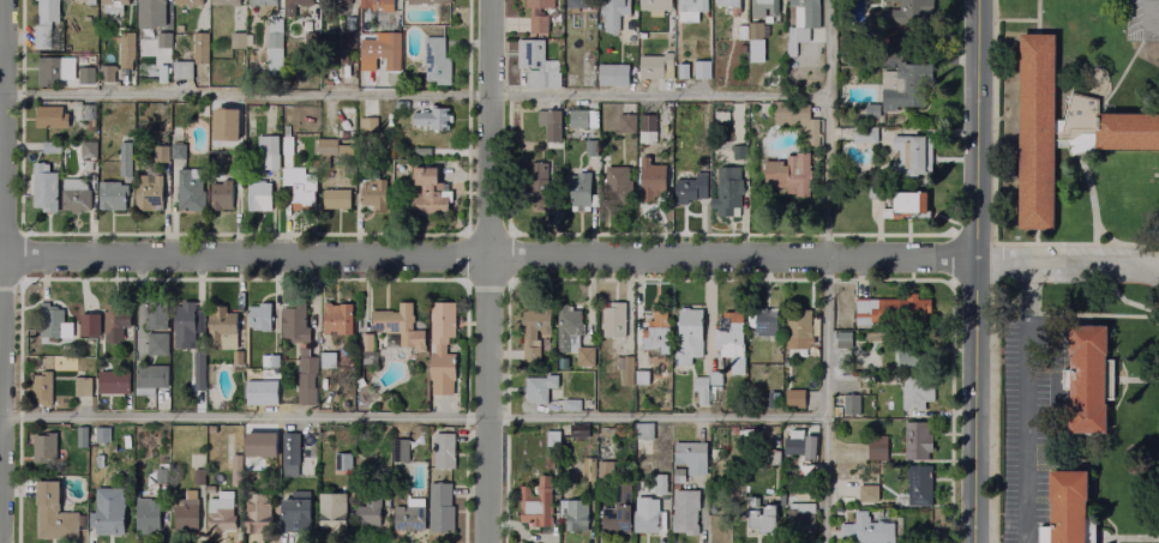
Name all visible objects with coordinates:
building: (110, 1)
building: (187, 1)
building: (427, 1)
building: (224, 2)
building: (292, 2)
building: (722, 2)
building: (653, 4)
building: (264, 5)
building: (374, 5)
building: (578, 5)
building: (758, 6)
building: (687, 8)
building: (149, 13)
building: (540, 13)
building: (609, 13)
road: (1035, 17)
building: (900, 18)
road: (1014, 20)
parking lot: (1141, 22)
building: (43, 23)
road: (1147, 23)
building: (328, 24)
building: (178, 29)
building: (734, 31)
building: (797, 40)
building: (163, 41)
building: (238, 42)
building: (756, 43)
building: (199, 46)
building: (275, 47)
building: (346, 47)
building: (388, 49)
building: (125, 55)
building: (236, 56)
building: (438, 56)
building: (106, 64)
building: (536, 65)
building: (654, 66)
building: (53, 68)
building: (181, 70)
building: (703, 70)
road: (1122, 70)
building: (683, 72)
building: (84, 73)
building: (162, 74)
building: (613, 76)
building: (740, 80)
building: (906, 90)
road: (413, 99)
building: (401, 108)
building: (871, 111)
building: (50, 117)
building: (89, 117)
building: (431, 117)
building: (607, 117)
building: (552, 120)
building: (578, 120)
building: (795, 122)
building: (368, 123)
building: (626, 125)
road: (0, 129)
building: (647, 131)
building: (1061, 131)
building: (866, 135)
building: (50, 147)
building: (89, 150)
building: (590, 150)
building: (734, 150)
building: (179, 152)
building: (268, 153)
building: (161, 155)
building: (335, 155)
building: (422, 155)
building: (907, 157)
building: (126, 161)
building: (238, 162)
building: (538, 171)
building: (296, 175)
building: (789, 175)
building: (651, 181)
building: (615, 187)
building: (44, 188)
building: (690, 189)
building: (729, 189)
building: (190, 192)
building: (578, 192)
building: (149, 194)
building: (430, 194)
building: (113, 197)
building: (221, 197)
building: (376, 197)
building: (259, 198)
building: (541, 198)
building: (337, 199)
building: (77, 200)
building: (911, 204)
road: (1095, 223)
road: (1095, 233)
road: (1034, 236)
road: (1053, 242)
road: (486, 258)
road: (1068, 259)
road: (1099, 264)
road: (486, 271)
road: (824, 271)
road: (973, 271)
road: (1025, 298)
road: (1129, 303)
building: (866, 313)
road: (1075, 315)
building: (155, 318)
building: (259, 318)
building: (337, 320)
building: (614, 320)
building: (49, 322)
building: (115, 322)
building: (293, 324)
building: (765, 324)
building: (90, 326)
building: (190, 327)
building: (398, 327)
building: (222, 332)
building: (798, 332)
building: (534, 333)
building: (655, 333)
building: (572, 336)
building: (689, 338)
building: (729, 340)
building: (366, 344)
building: (157, 348)
building: (443, 349)
building: (865, 351)
building: (236, 358)
building: (326, 361)
building: (270, 363)
building: (199, 368)
building: (625, 369)
building: (254, 374)
building: (729, 375)
building: (151, 378)
building: (305, 378)
road: (1135, 378)
building: (641, 379)
building: (715, 379)
building: (888, 379)
building: (1086, 379)
building: (112, 382)
building: (917, 382)
building: (359, 384)
building: (535, 386)
building: (41, 391)
building: (701, 391)
building: (83, 392)
building: (260, 393)
building: (795, 399)
building: (773, 402)
building: (568, 404)
building: (853, 405)
road: (412, 416)
parking lot: (1031, 420)
building: (575, 430)
building: (642, 432)
building: (82, 439)
building: (103, 439)
building: (553, 440)
road: (1023, 441)
building: (792, 442)
building: (917, 442)
building: (259, 444)
building: (876, 448)
building: (44, 450)
building: (443, 451)
building: (401, 452)
building: (292, 455)
building: (269, 459)
building: (691, 459)
building: (773, 459)
building: (344, 464)
building: (234, 469)
building: (589, 470)
building: (603, 470)
building: (160, 475)
building: (198, 477)
building: (678, 477)
building: (661, 485)
building: (918, 485)
building: (210, 490)
building: (867, 494)
building: (538, 505)
building: (439, 509)
building: (1067, 509)
building: (332, 512)
building: (685, 512)
building: (109, 513)
building: (221, 513)
building: (260, 513)
building: (148, 514)
building: (54, 515)
building: (185, 517)
building: (295, 517)
building: (409, 517)
building: (572, 517)
building: (645, 517)
building: (800, 519)
building: (368, 520)
building: (617, 520)
building: (762, 520)
building: (871, 530)
road: (1127, 538)

